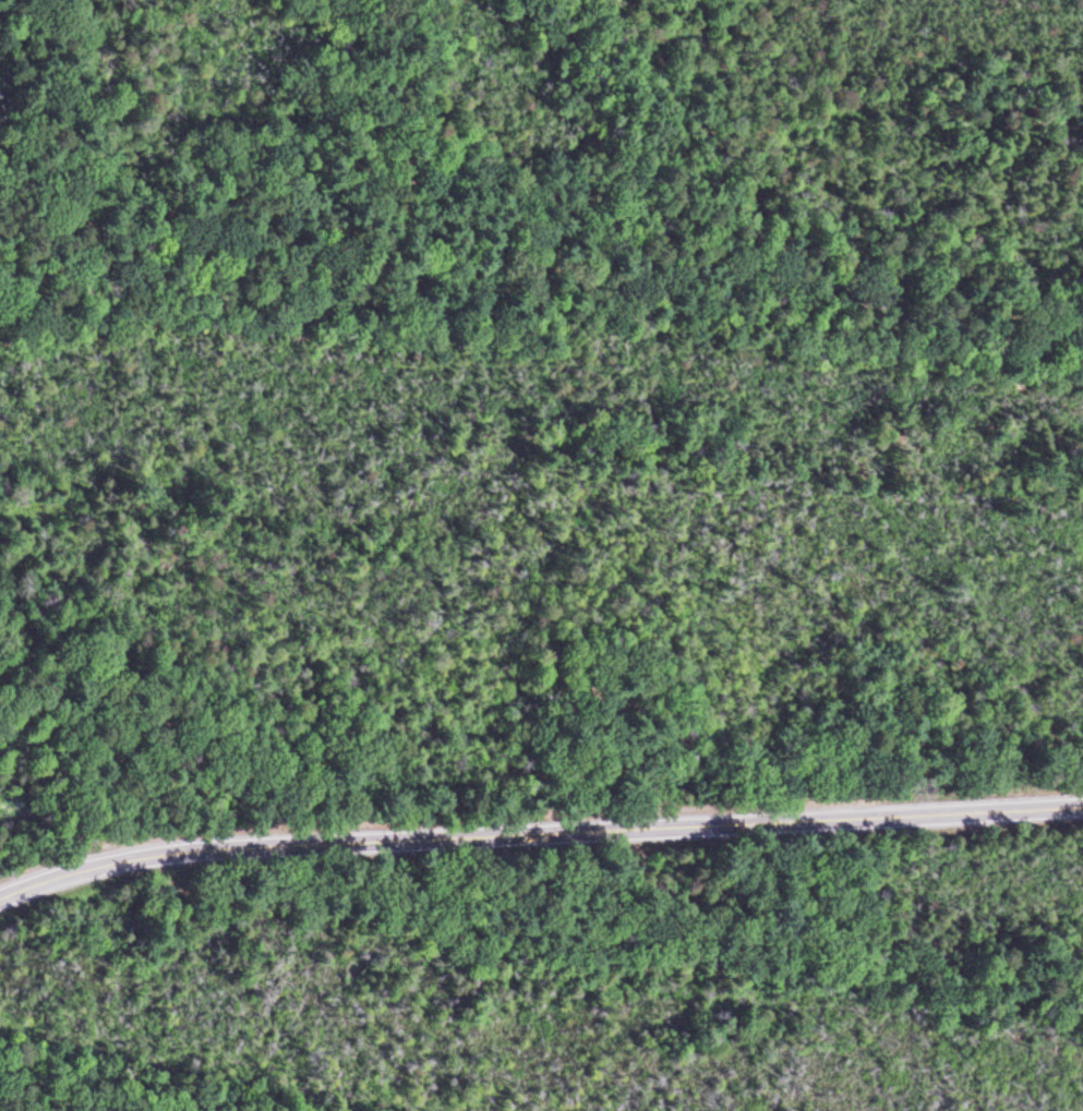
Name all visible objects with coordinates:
road: (538, 836)

